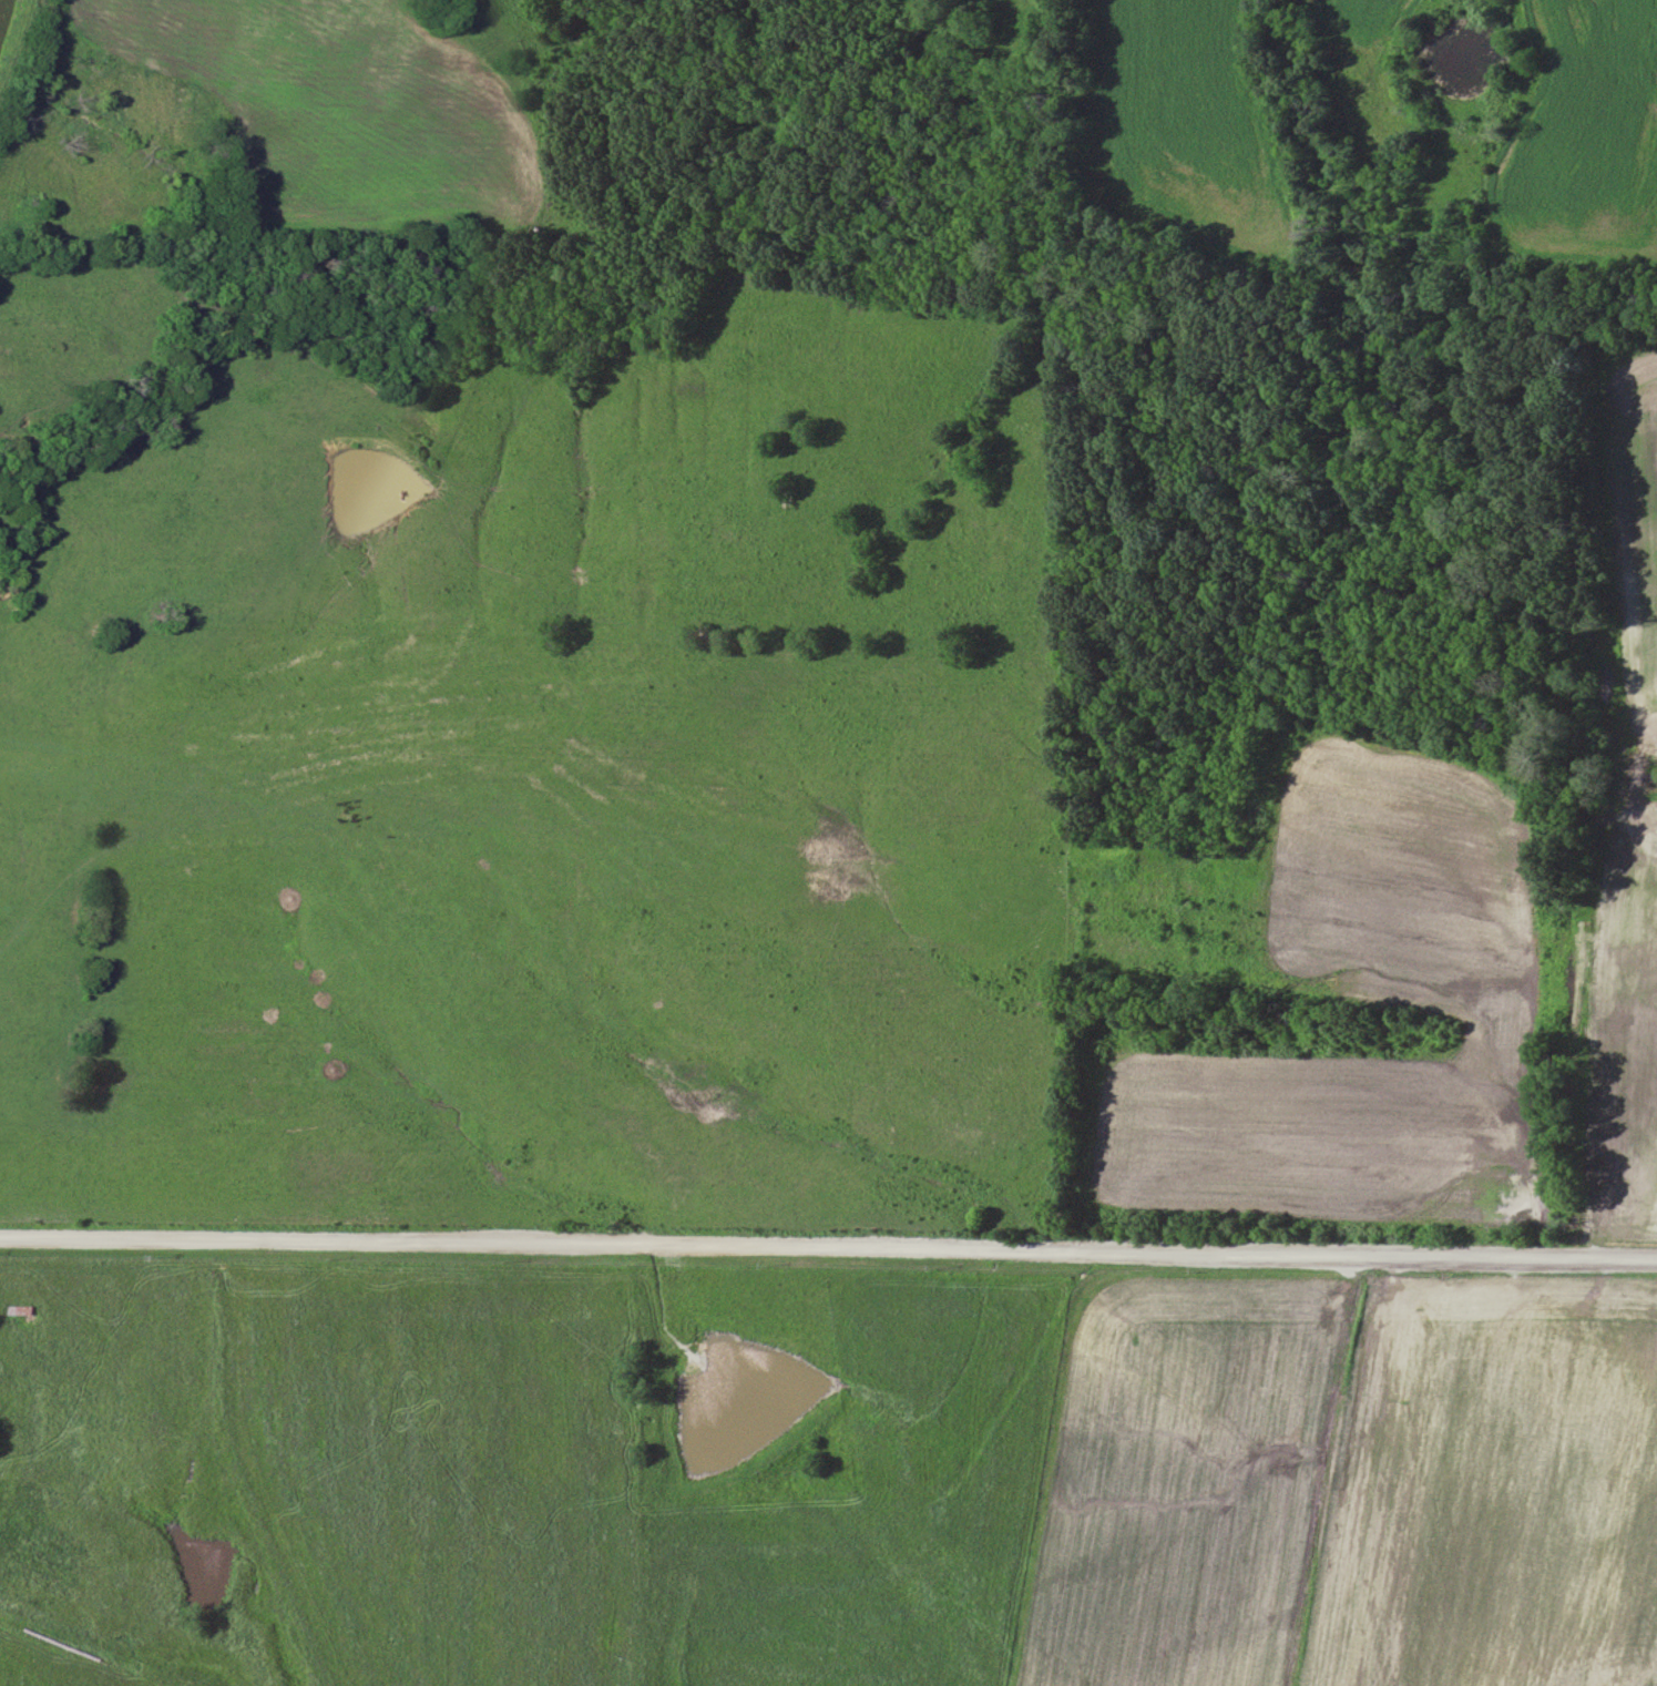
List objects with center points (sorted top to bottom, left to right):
road: (828, 1250)
building: (19, 1310)

